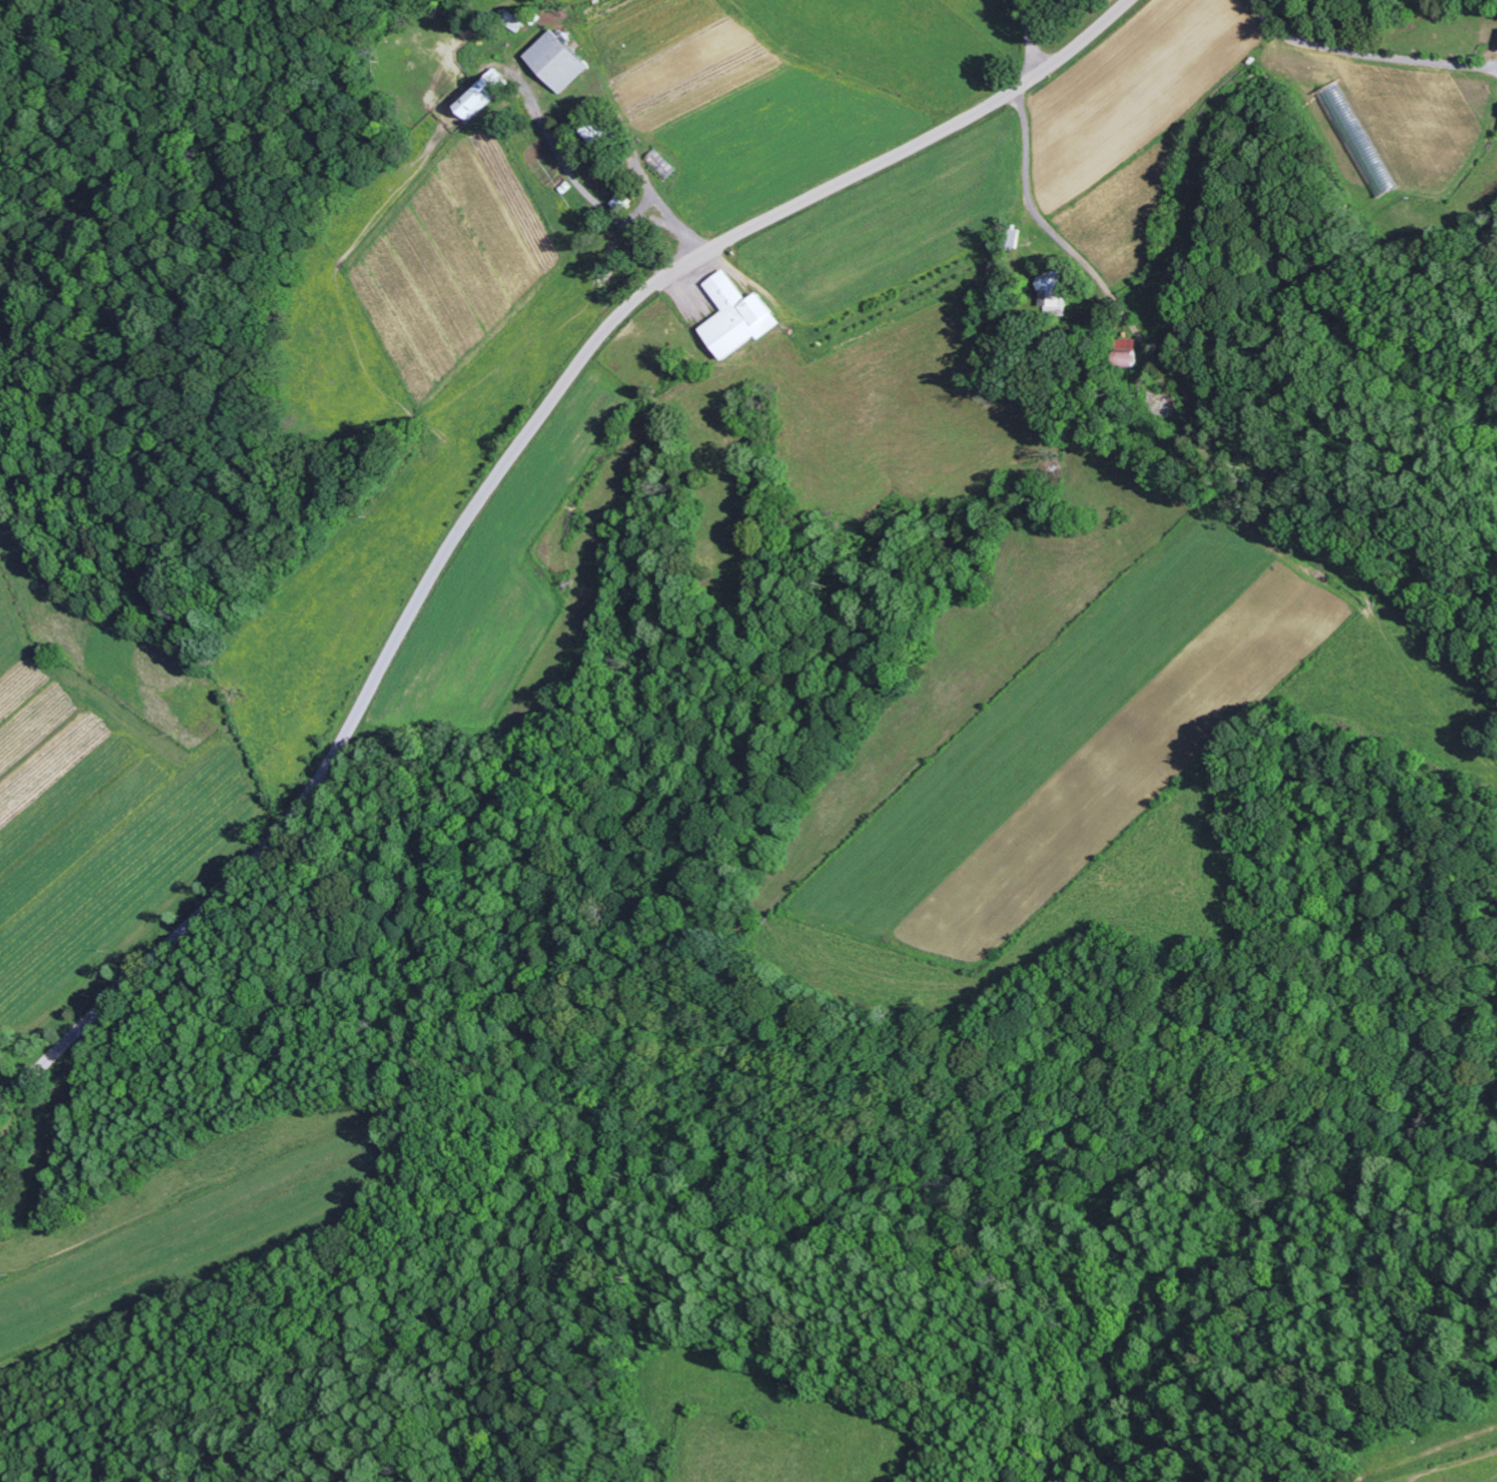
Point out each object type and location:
road: (1043, 33)
building: (557, 60)
building: (483, 92)
building: (624, 198)
building: (1050, 293)
road: (1151, 300)
building: (738, 316)
building: (1132, 358)
road: (495, 476)

